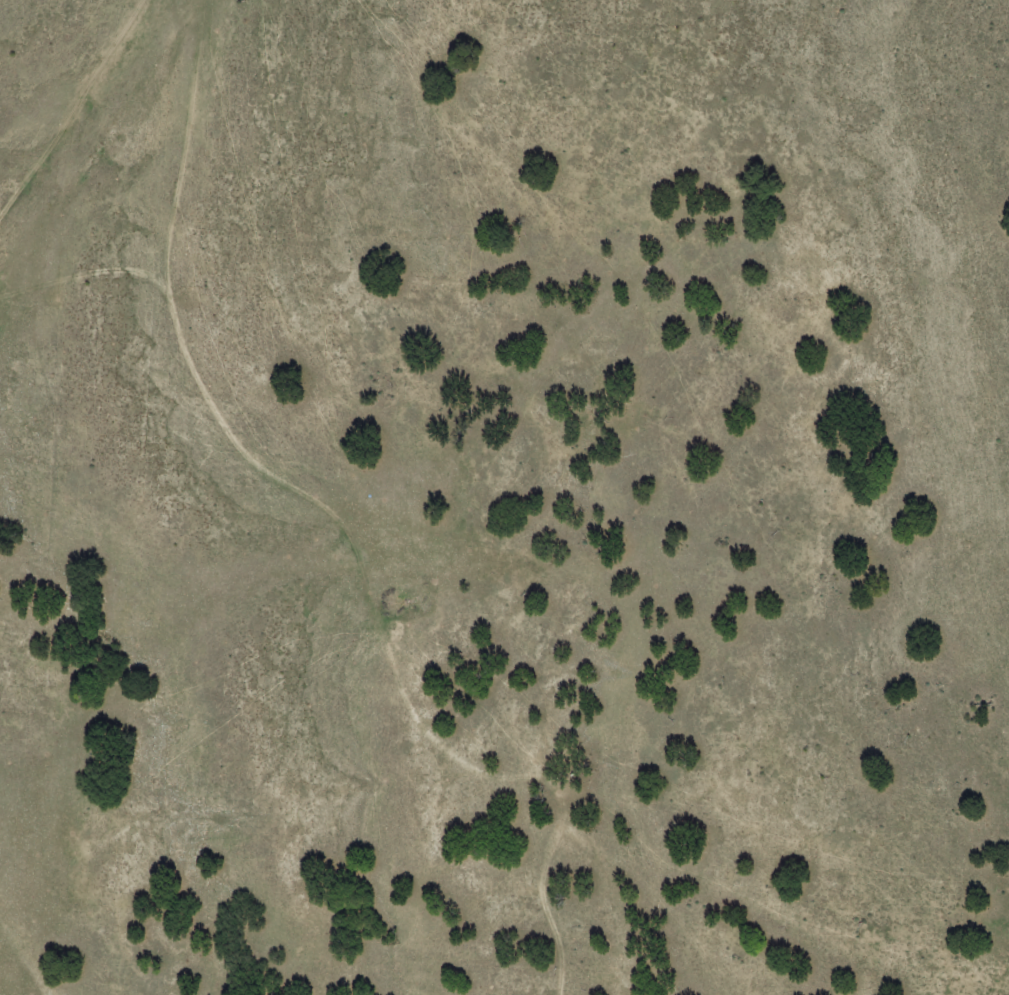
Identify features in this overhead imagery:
road: (62, 96)

